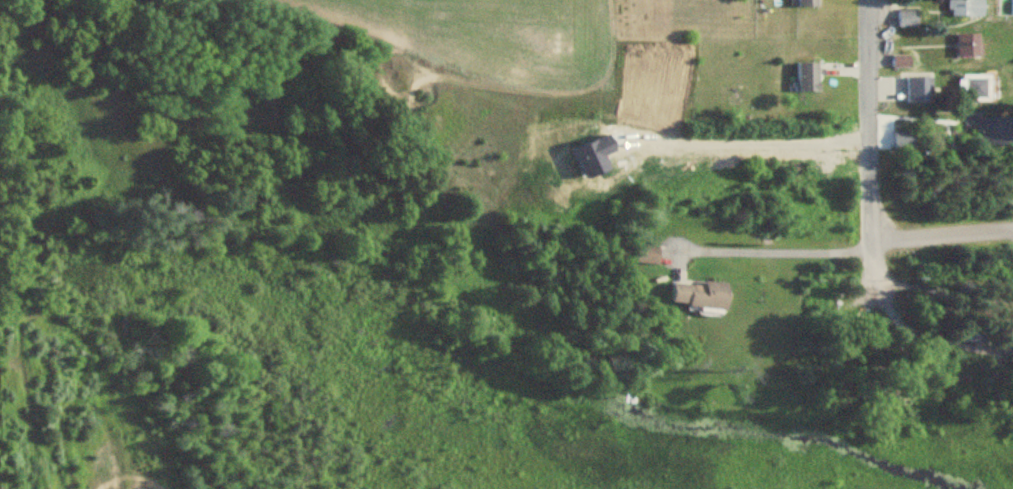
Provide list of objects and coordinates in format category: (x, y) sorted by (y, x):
building: (802, 3)
building: (961, 9)
building: (904, 20)
building: (964, 47)
building: (899, 63)
building: (803, 78)
building: (969, 88)
building: (917, 91)
building: (993, 133)
road: (867, 142)
building: (902, 142)
road: (939, 232)
road: (772, 251)
building: (649, 253)
building: (701, 296)

